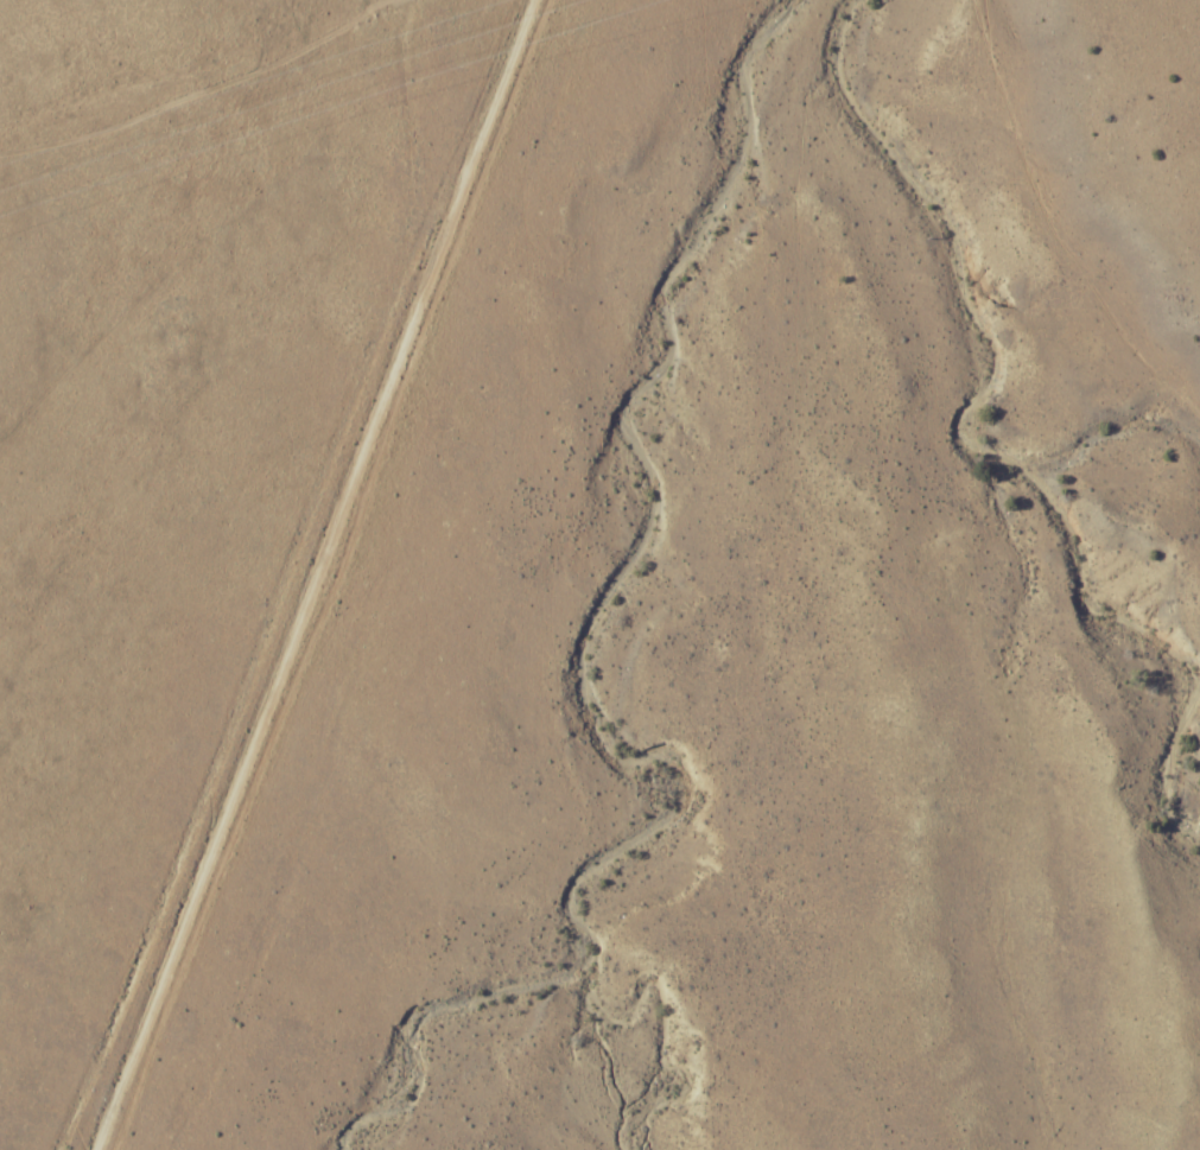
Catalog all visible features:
road: (195, 53)
road: (406, 132)
road: (480, 132)
road: (210, 230)
road: (262, 707)

